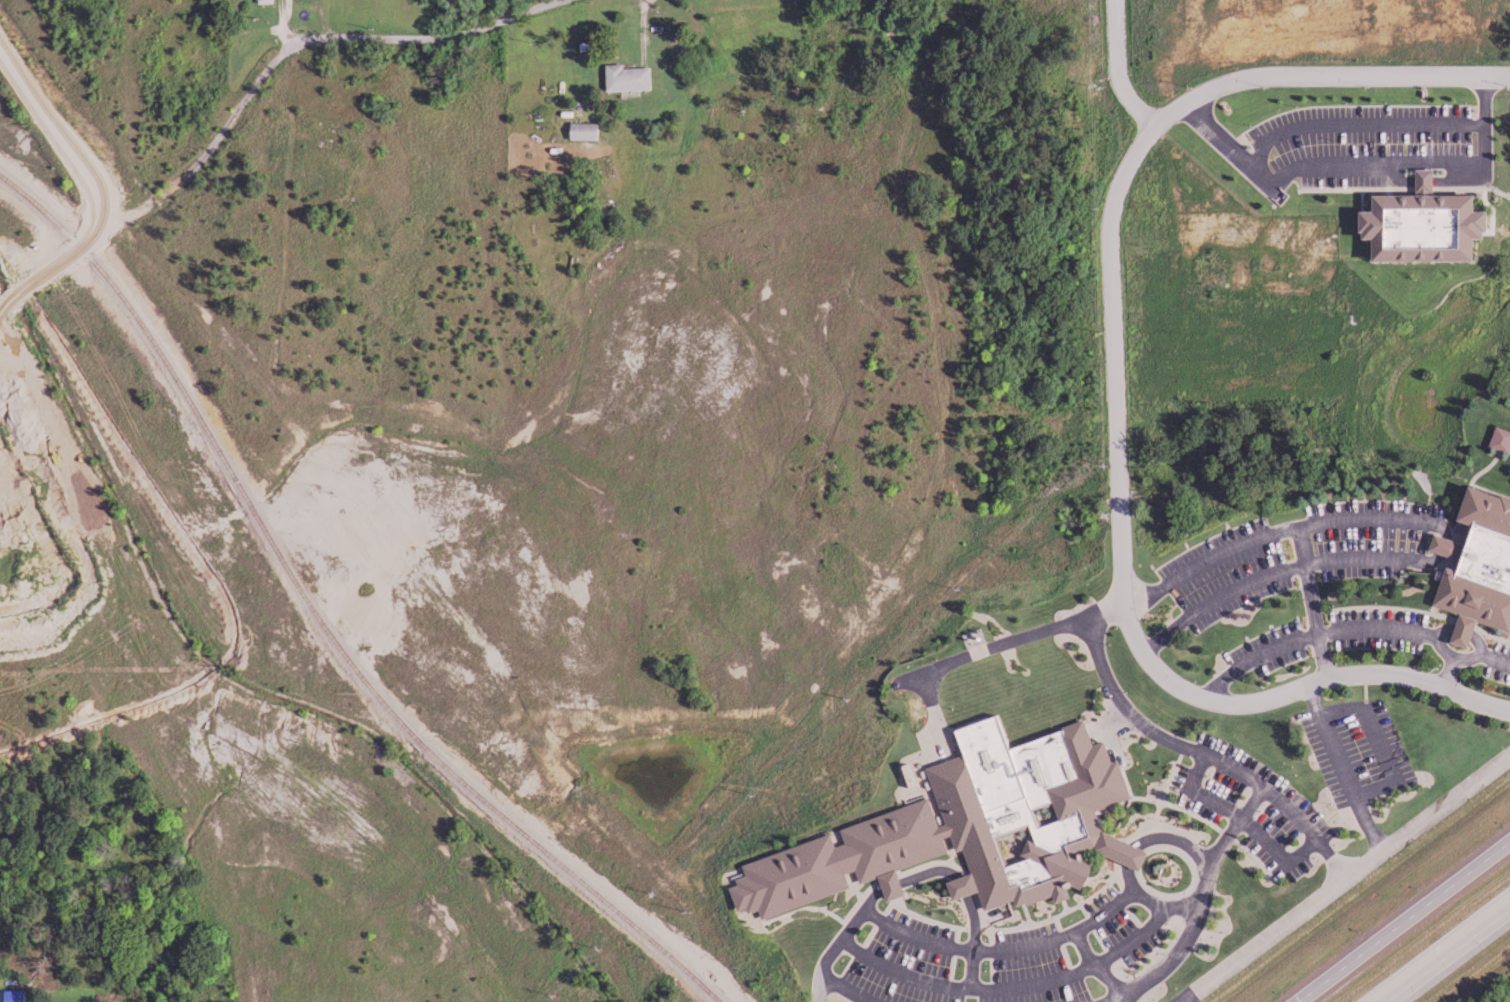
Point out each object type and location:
road: (289, 44)
road: (1110, 70)
road: (1323, 76)
road: (61, 123)
road: (1336, 128)
road: (1370, 167)
building: (1434, 223)
road: (59, 268)
road: (1113, 362)
building: (1502, 437)
road: (1278, 530)
road: (1438, 544)
building: (1445, 544)
road: (1278, 568)
building: (1483, 569)
road: (1308, 601)
railway: (319, 619)
road: (1350, 630)
road: (1010, 643)
road: (1448, 671)
road: (1296, 689)
road: (937, 712)
road: (1376, 747)
road: (1198, 761)
road: (1339, 769)
building: (974, 825)
road: (1243, 828)
road: (1235, 829)
road: (1177, 849)
road: (1134, 863)
road: (1351, 878)
road: (935, 880)
road: (1131, 888)
road: (899, 891)
road: (963, 896)
road: (873, 907)
road: (1405, 923)
road: (974, 933)
road: (1186, 947)
road: (1450, 957)
road: (1004, 958)
road: (1098, 973)
road: (974, 979)
road: (986, 1000)

